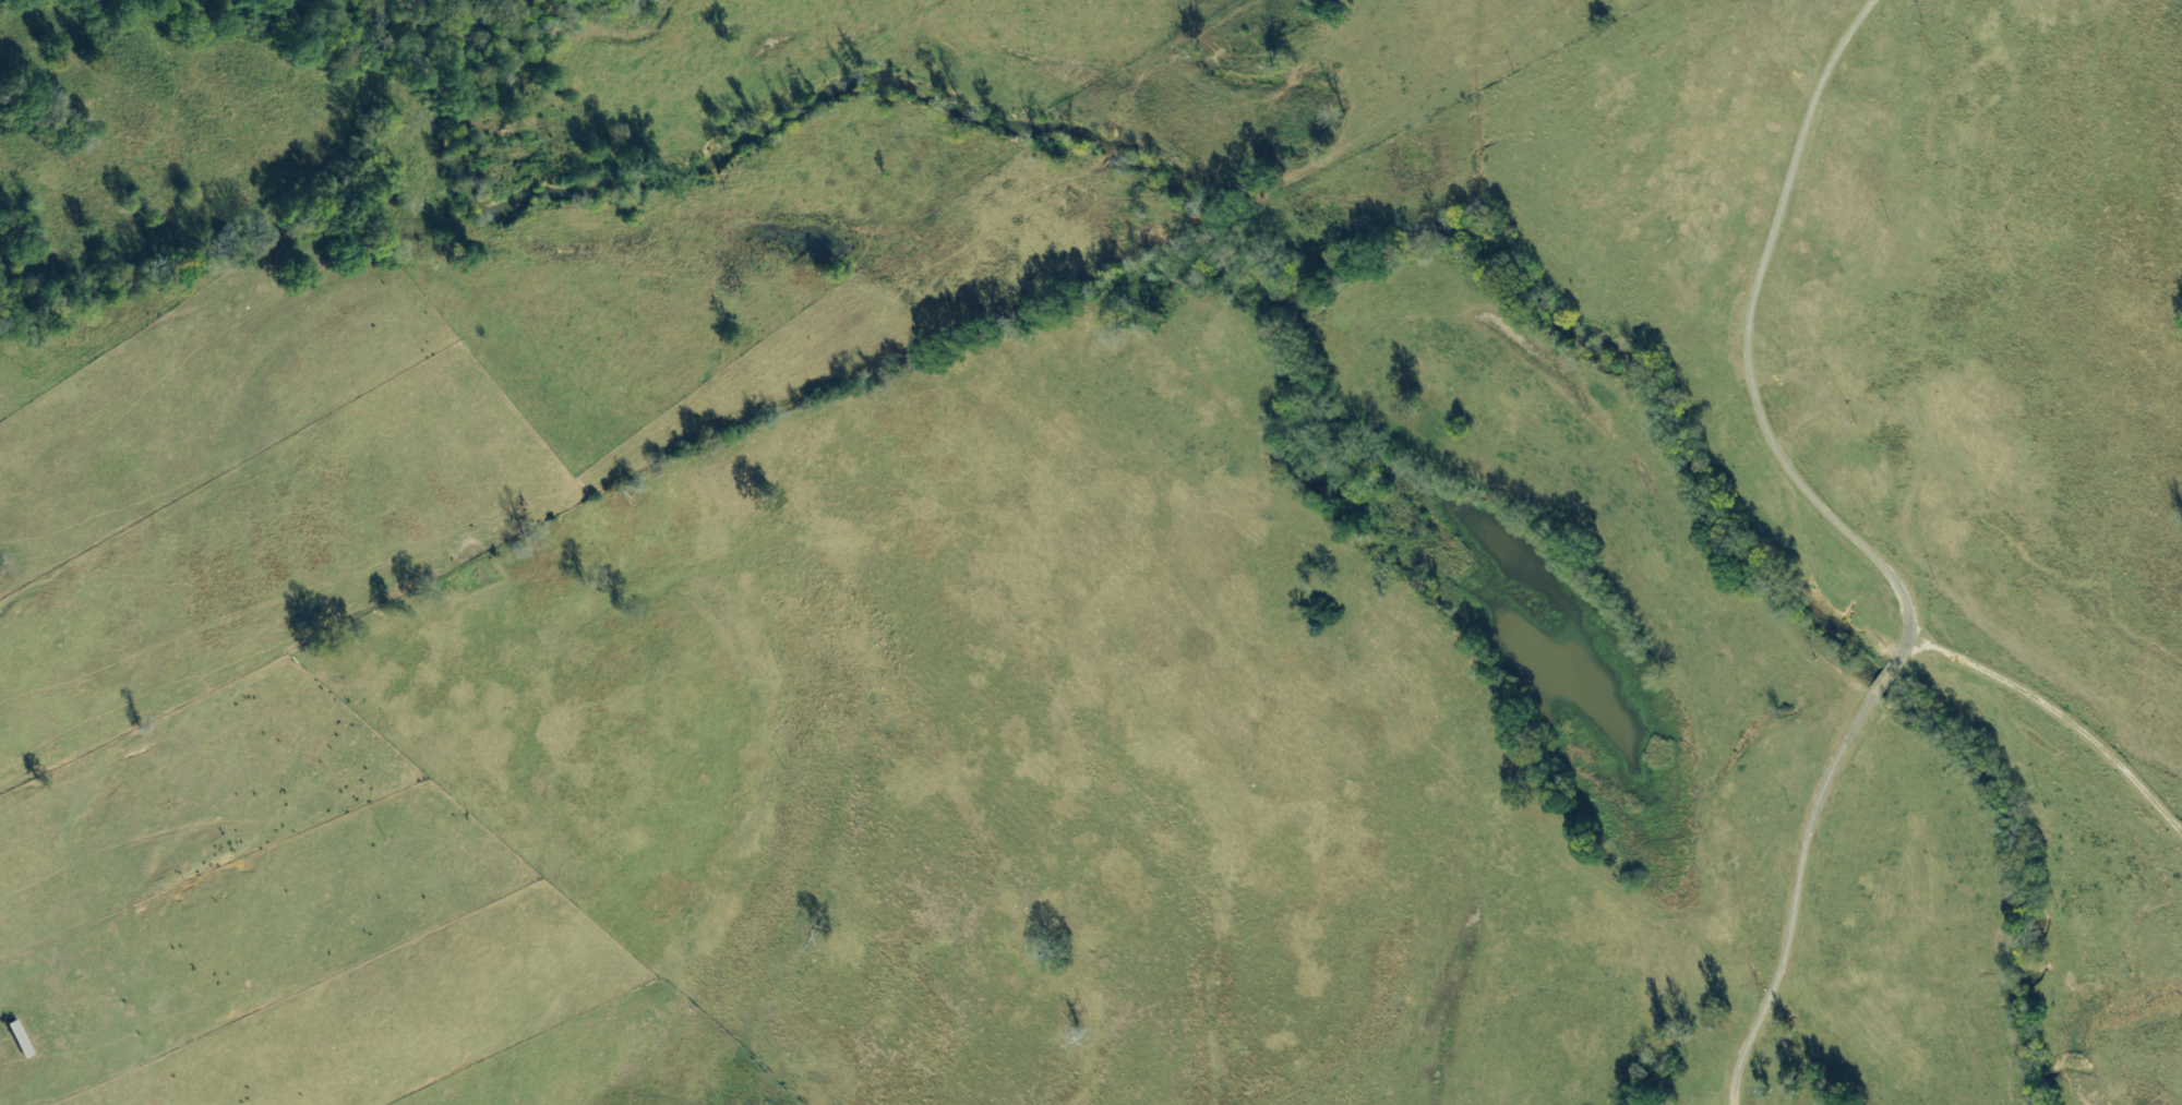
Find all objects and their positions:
road: (1785, 905)

